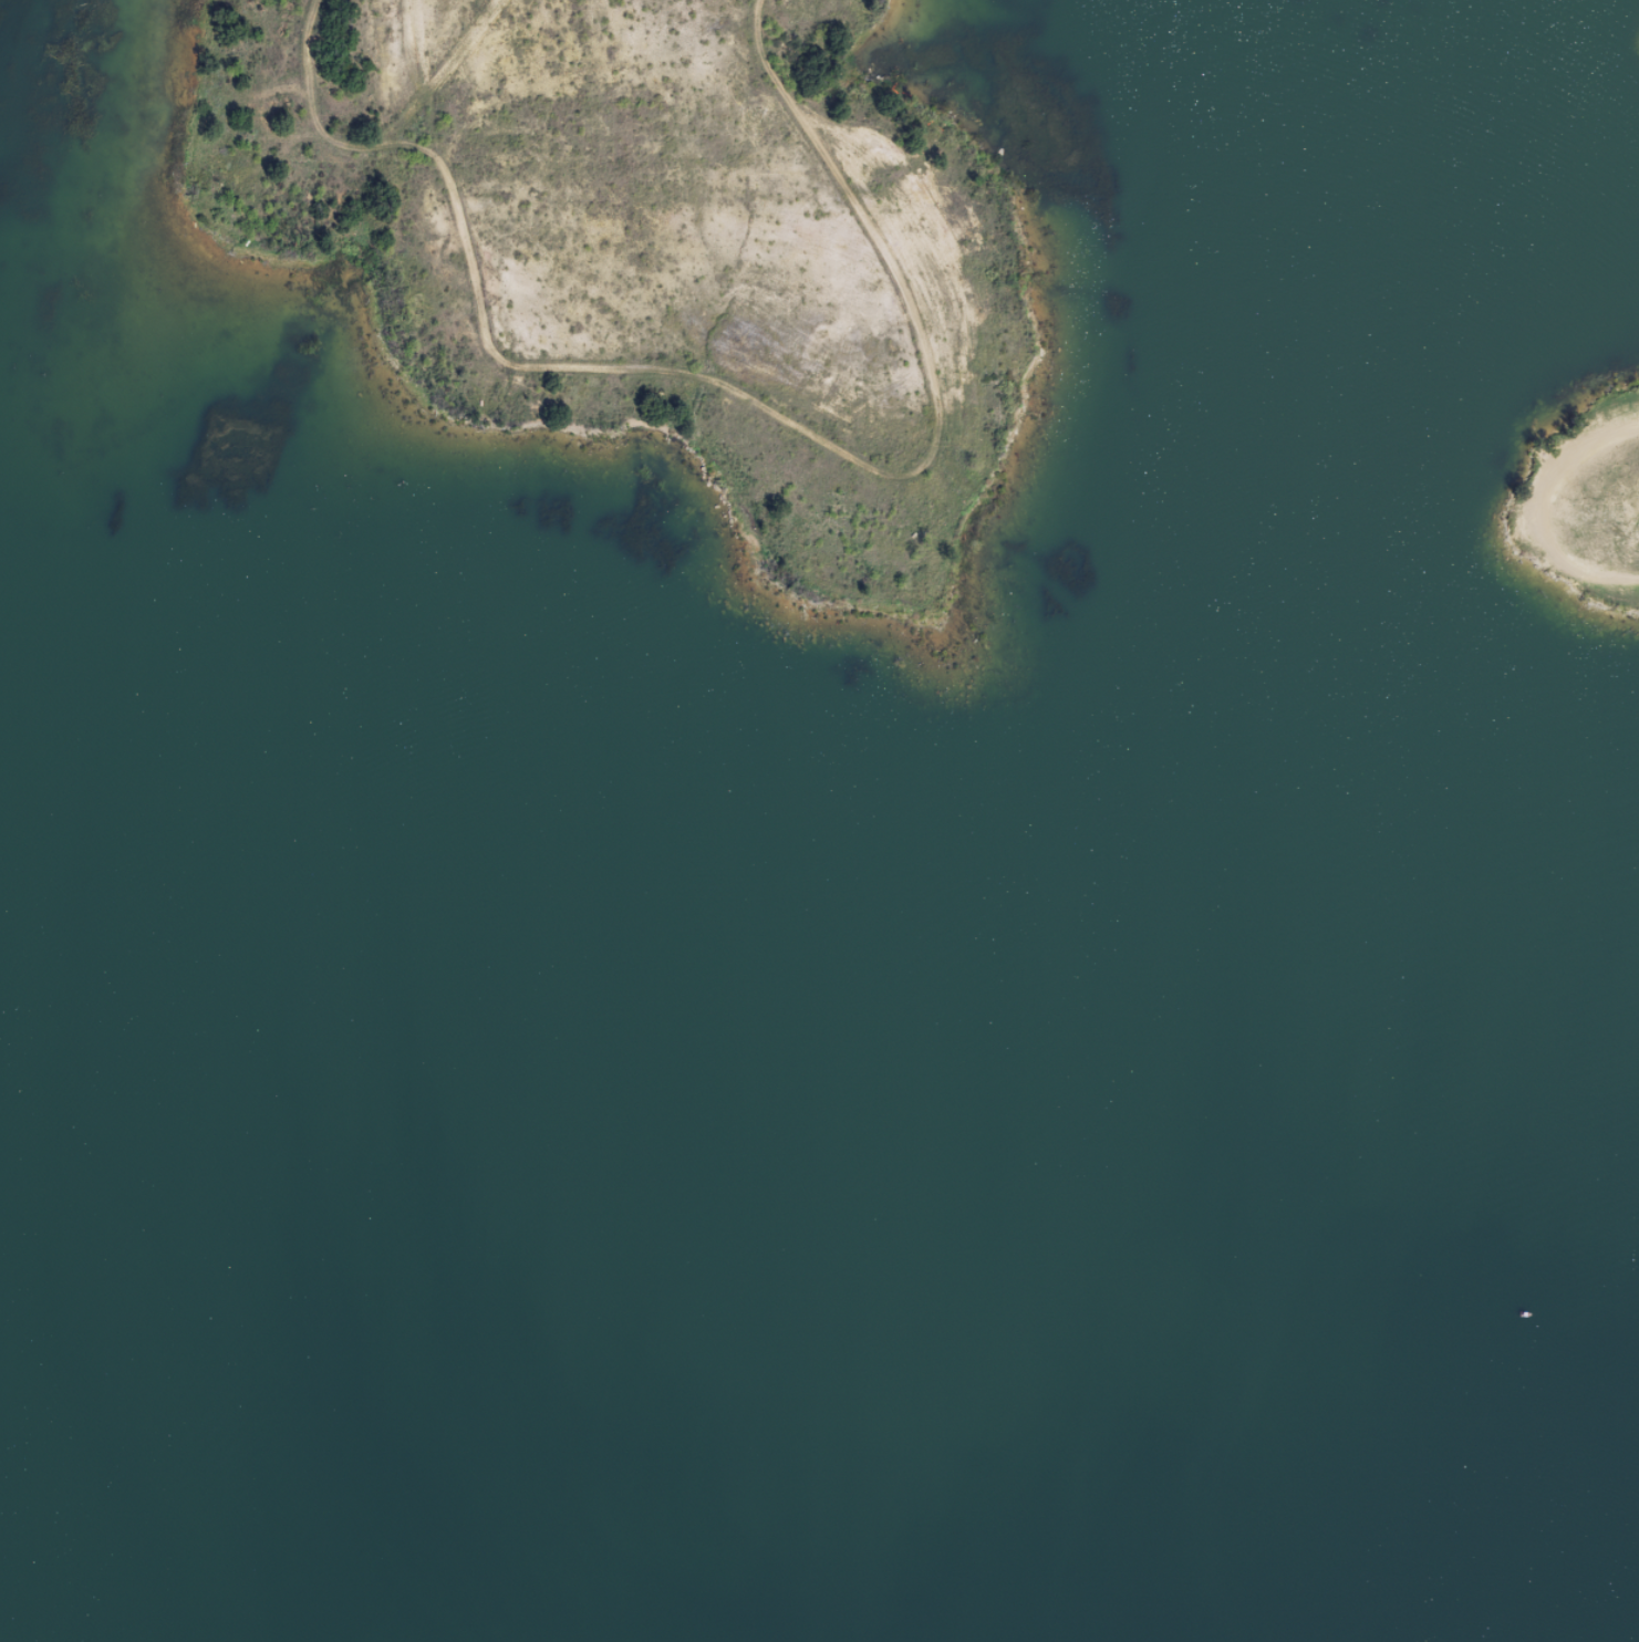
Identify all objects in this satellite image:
road: (739, 395)
road: (1544, 508)

